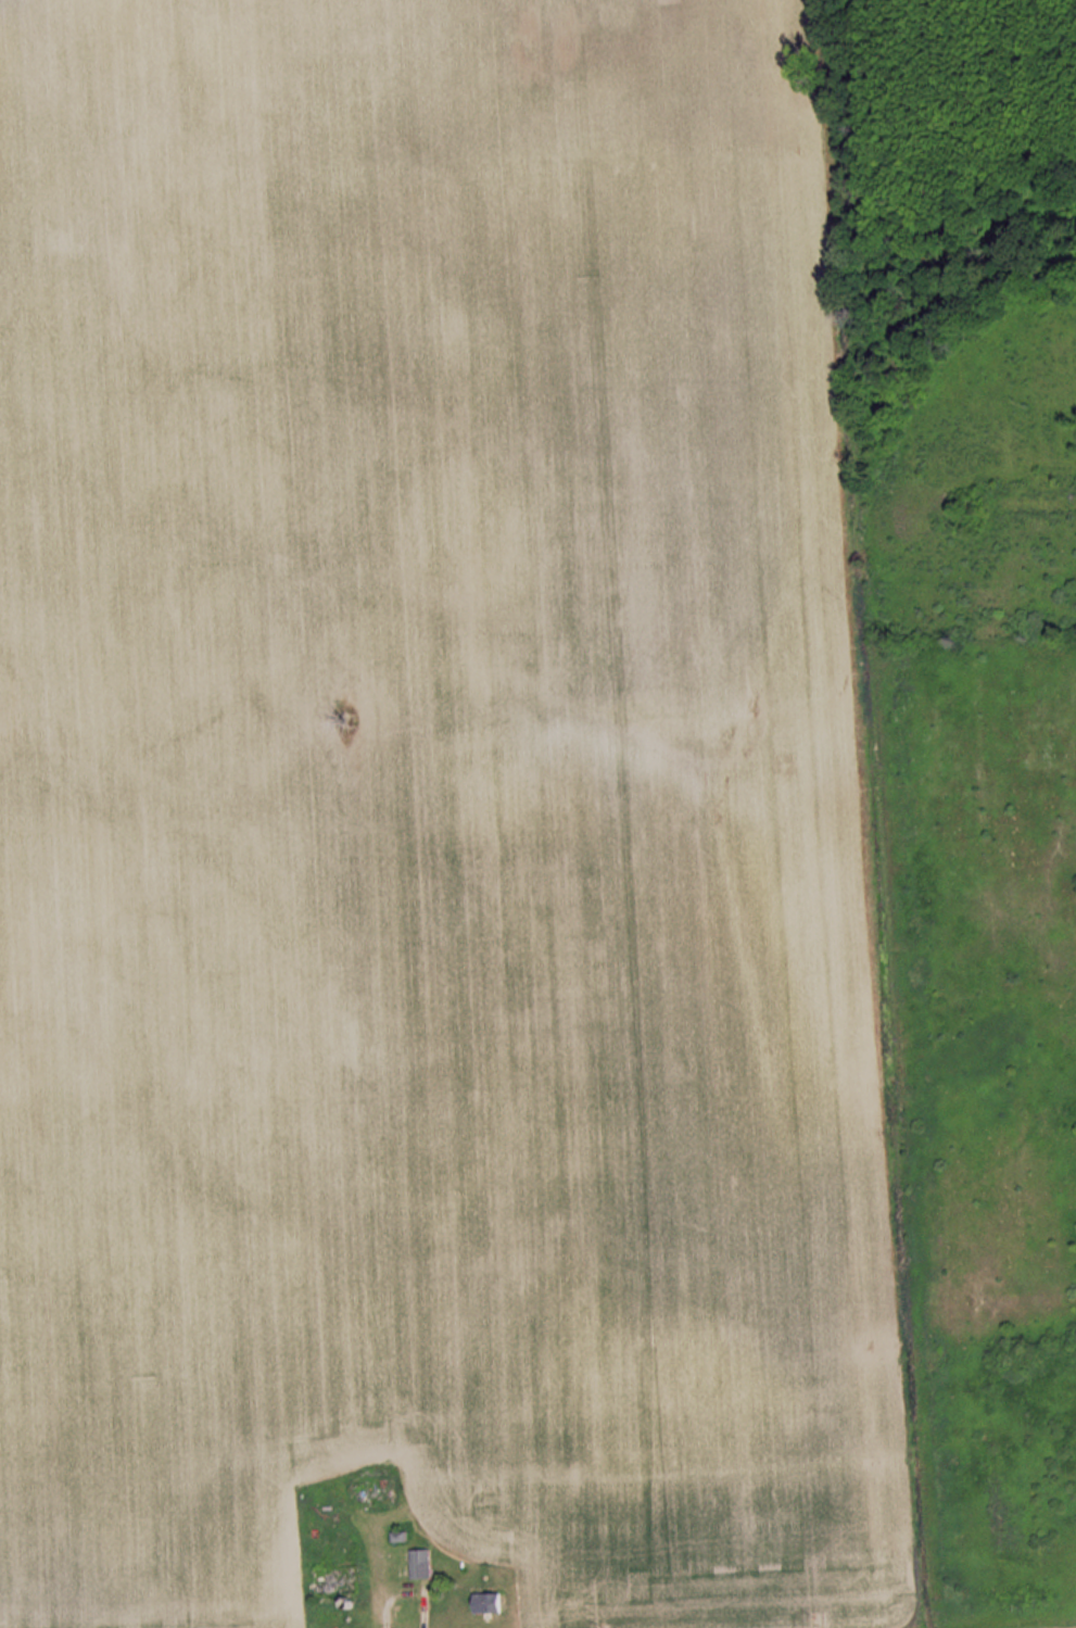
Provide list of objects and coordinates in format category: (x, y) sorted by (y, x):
building: (369, 1492)
building: (423, 1567)
building: (492, 1605)

